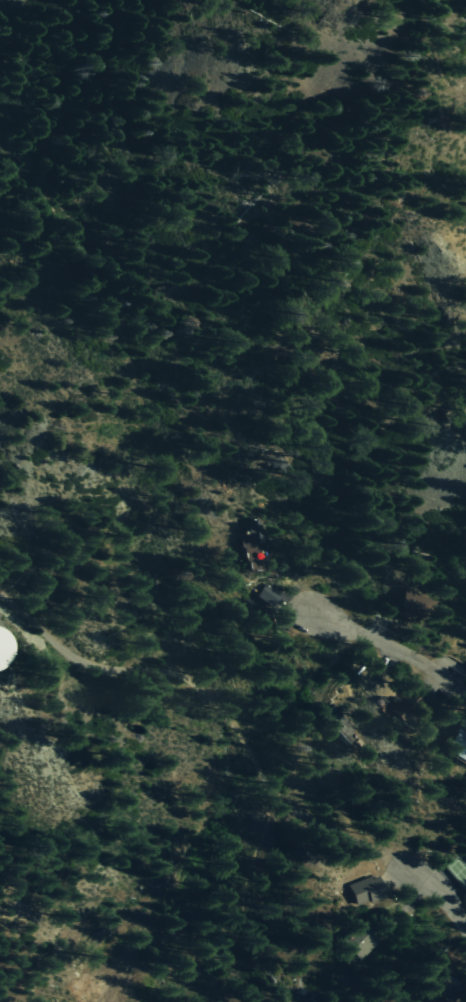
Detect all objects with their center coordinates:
building: (250, 545)
building: (267, 594)
building: (415, 606)
building: (4, 648)
road: (392, 648)
building: (402, 705)
road: (218, 708)
building: (457, 747)
building: (365, 890)
road: (439, 895)
building: (360, 945)
road: (62, 982)
road: (98, 996)

